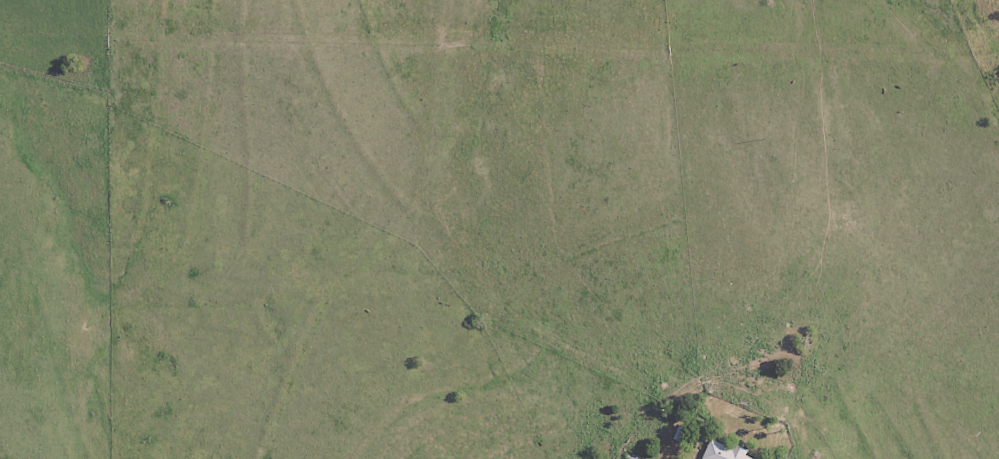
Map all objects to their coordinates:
building: (723, 452)

